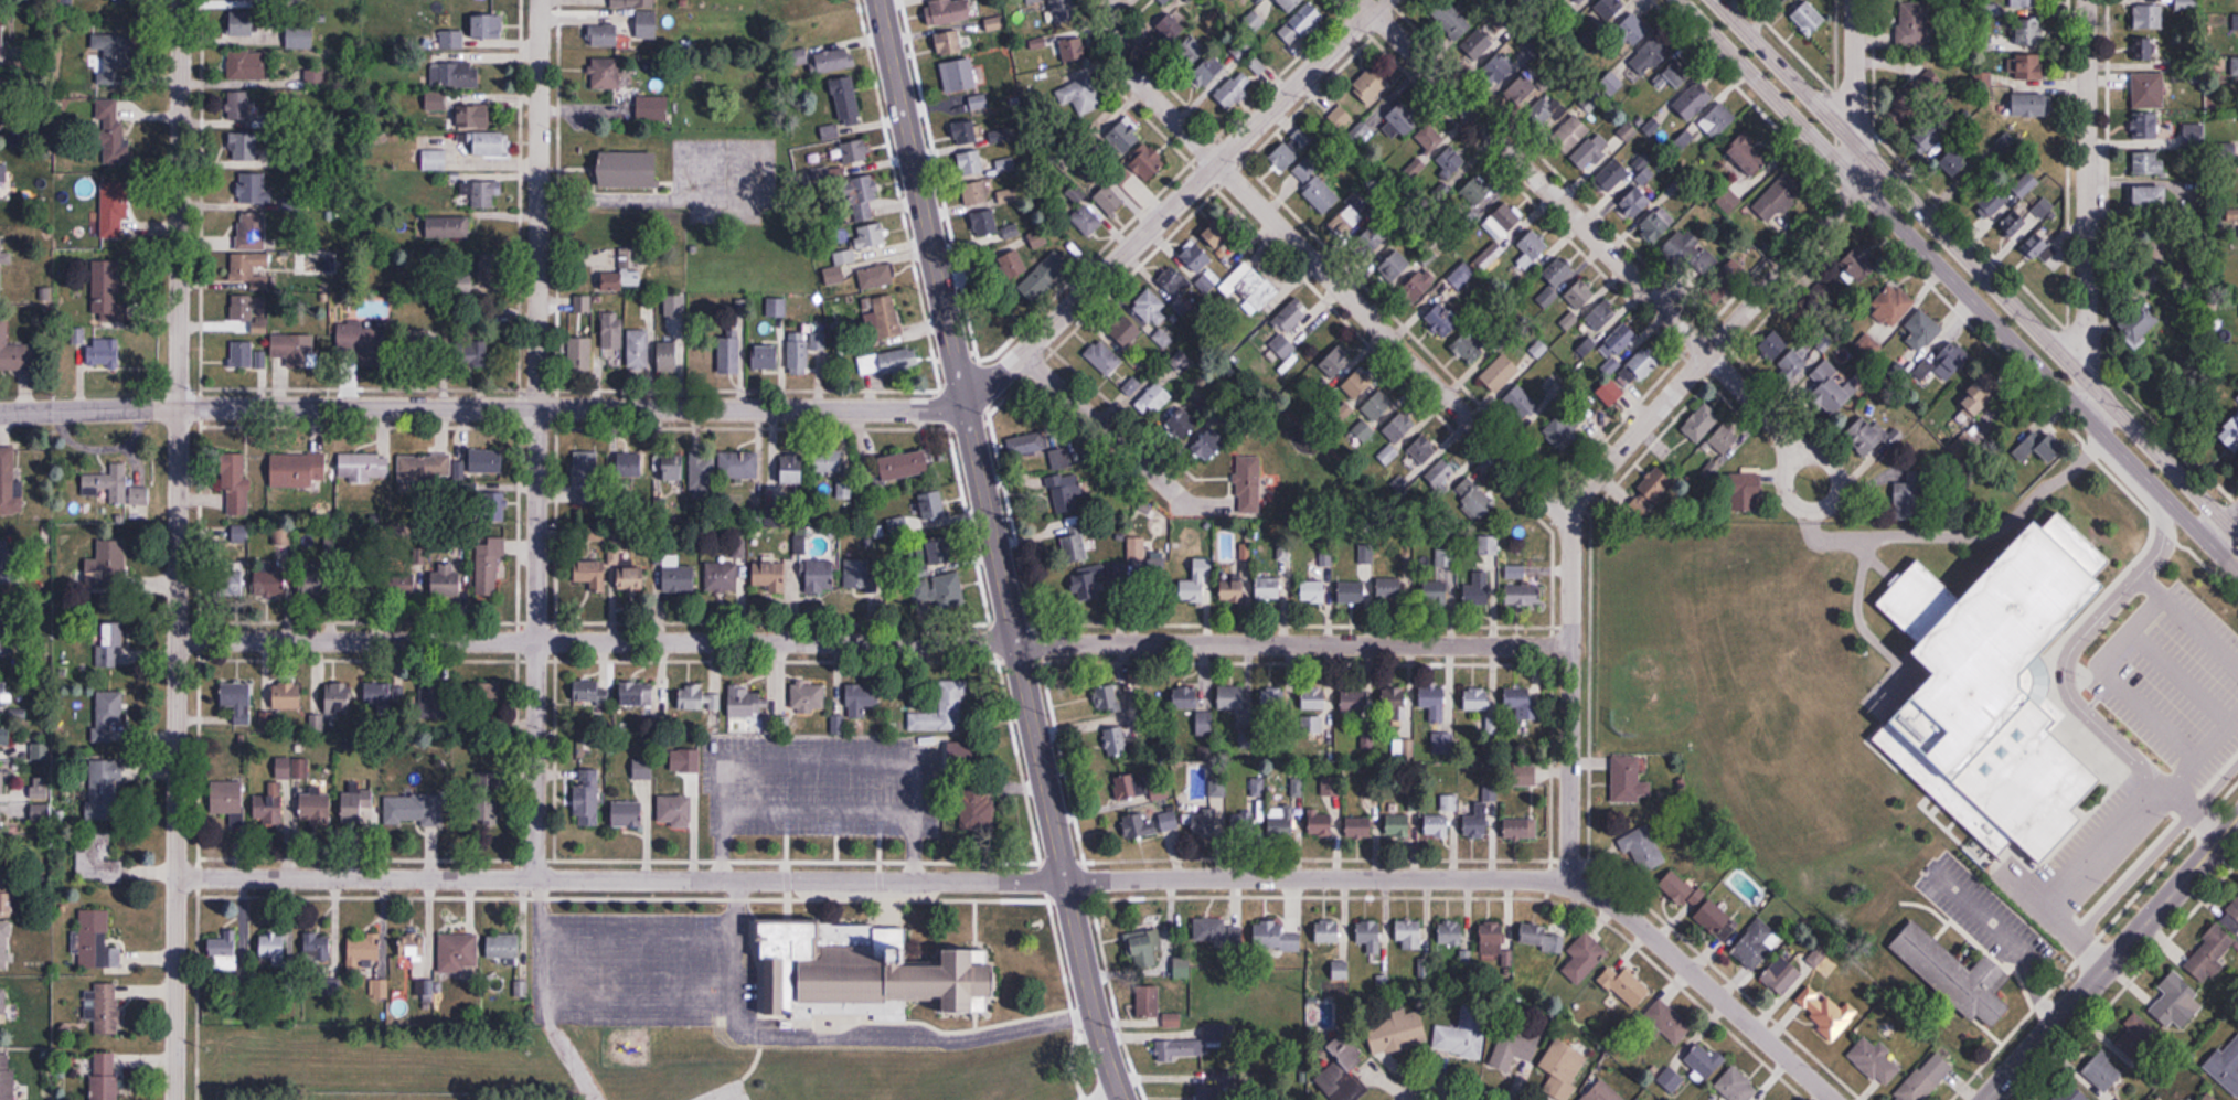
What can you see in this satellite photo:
building: (1776, 0)
building: (1579, 1)
building: (247, 2)
building: (632, 3)
building: (2026, 3)
building: (1290, 4)
building: (950, 11)
building: (1064, 11)
building: (1605, 12)
building: (2149, 17)
building: (1808, 18)
building: (1451, 19)
building: (1254, 21)
building: (243, 22)
building: (1303, 22)
building: (995, 23)
building: (1914, 24)
building: (488, 26)
building: (1170, 29)
building: (1633, 30)
building: (2028, 32)
building: (604, 36)
building: (2, 40)
building: (1481, 42)
building: (948, 43)
building: (1072, 50)
building: (1243, 50)
building: (2146, 53)
building: (798, 56)
building: (115, 58)
building: (835, 61)
building: (1200, 61)
building: (247, 65)
building: (1257, 65)
building: (2234, 66)
building: (2031, 67)
building: (1500, 70)
road: (1853, 70)
building: (1676, 73)
building: (605, 74)
building: (463, 75)
building: (958, 76)
building: (1375, 78)
building: (1234, 88)
building: (1921, 88)
building: (1523, 89)
building: (2149, 89)
building: (1079, 95)
building: (4, 102)
building: (437, 102)
building: (978, 102)
building: (1694, 102)
building: (2032, 105)
building: (239, 107)
building: (843, 107)
building: (652, 108)
building: (1543, 111)
building: (484, 116)
building: (1340, 117)
building: (1404, 118)
building: (1719, 125)
building: (2146, 126)
building: (110, 131)
building: (965, 132)
building: (1931, 132)
building: (1127, 134)
building: (1570, 134)
building: (2194, 136)
building: (1429, 140)
building: (2005, 142)
building: (491, 143)
building: (244, 147)
building: (852, 152)
building: (1592, 153)
building: (1296, 156)
building: (434, 160)
building: (1749, 160)
building: (1958, 160)
building: (971, 163)
building: (1148, 163)
building: (1450, 163)
building: (2148, 163)
building: (1416, 168)
building: (628, 170)
building: (1613, 175)
road: (1536, 177)
building: (2025, 184)
road: (2085, 189)
building: (255, 191)
building: (1478, 192)
building: (481, 193)
building: (976, 194)
building: (1320, 195)
building: (860, 196)
building: (1777, 199)
building: (2152, 199)
building: (1110, 200)
building: (1635, 203)
building: (1993, 203)
building: (114, 211)
building: (1085, 215)
building: (2232, 215)
building: (1346, 222)
building: (984, 224)
building: (2014, 224)
building: (1658, 225)
building: (448, 227)
building: (253, 232)
building: (1011, 232)
building: (1499, 233)
building: (1219, 235)
building: (871, 236)
building: (1038, 239)
building: (2036, 247)
building: (1532, 249)
building: (1685, 255)
building: (1193, 258)
building: (4, 260)
road: (1318, 265)
building: (1013, 266)
building: (1857, 266)
building: (840, 267)
road: (1976, 267)
building: (249, 269)
building: (625, 273)
building: (1559, 273)
building: (1044, 277)
building: (1461, 277)
building: (1408, 278)
building: (876, 279)
building: (1727, 279)
building: (115, 280)
building: (1174, 285)
road: (1958, 286)
building: (1253, 287)
building: (1820, 292)
building: (1590, 306)
building: (1891, 306)
building: (777, 308)
building: (1151, 308)
building: (248, 309)
building: (675, 318)
building: (887, 321)
building: (1443, 321)
building: (1569, 321)
building: (1288, 327)
building: (2140, 327)
building: (612, 332)
building: (1127, 332)
building: (1922, 332)
road: (1727, 335)
building: (356, 337)
building: (1622, 340)
building: (419, 344)
building: (1772, 344)
building: (292, 346)
building: (1471, 348)
building: (638, 350)
building: (806, 350)
building: (17, 353)
building: (103, 353)
building: (472, 353)
building: (579, 355)
building: (728, 355)
building: (242, 356)
building: (668, 357)
building: (765, 357)
building: (1102, 359)
building: (1946, 361)
building: (1339, 362)
building: (889, 363)
building: (1645, 363)
building: (1792, 366)
building: (1500, 374)
building: (1358, 386)
building: (1827, 391)
building: (1611, 394)
building: (1155, 398)
building: (2237, 399)
building: (1521, 404)
road: (1756, 405)
road: (774, 408)
building: (1375, 415)
building: (1702, 423)
road: (1101, 427)
building: (1400, 429)
building: (1560, 434)
building: (2230, 434)
road: (535, 435)
building: (1865, 437)
building: (1201, 440)
building: (1026, 445)
building: (1424, 450)
building: (1719, 450)
building: (827, 460)
building: (484, 461)
building: (738, 464)
building: (906, 464)
road: (1789, 464)
building: (630, 466)
building: (672, 467)
building: (363, 468)
building: (424, 468)
building: (792, 468)
building: (298, 470)
building: (1441, 476)
building: (703, 477)
building: (586, 478)
building: (8, 480)
building: (108, 483)
building: (1248, 483)
building: (235, 484)
building: (1656, 484)
building: (1067, 492)
building: (1747, 492)
building: (932, 505)
building: (1477, 505)
building: (495, 506)
road: (2231, 517)
building: (241, 535)
building: (1076, 546)
road: (178, 549)
road: (972, 551)
road: (994, 552)
building: (934, 554)
building: (10, 560)
building: (107, 562)
building: (490, 562)
building: (1131, 564)
building: (1157, 567)
building: (1528, 572)
building: (592, 573)
building: (769, 574)
building: (678, 576)
building: (631, 577)
building: (722, 577)
building: (820, 577)
building: (862, 579)
building: (1440, 579)
building: (233, 580)
building: (446, 581)
building: (271, 583)
building: (404, 583)
building: (1088, 583)
building: (1197, 583)
building: (318, 585)
building: (1269, 588)
building: (1478, 589)
building: (921, 590)
building: (949, 590)
building: (1233, 590)
building: (1390, 590)
building: (1313, 591)
building: (1354, 592)
building: (1523, 594)
road: (2187, 621)
building: (6, 633)
road: (873, 641)
building: (111, 644)
road: (2071, 645)
building: (1992, 683)
building: (1, 693)
building: (382, 693)
building: (590, 693)
building: (636, 694)
road: (1568, 695)
building: (287, 696)
building: (808, 697)
building: (338, 698)
building: (697, 698)
building: (1106, 698)
building: (1185, 698)
building: (1232, 698)
building: (1355, 698)
building: (1394, 698)
building: (862, 699)
building: (1313, 699)
building: (430, 701)
building: (1275, 701)
building: (1477, 701)
building: (237, 702)
building: (746, 703)
building: (1434, 704)
building: (1523, 704)
building: (945, 711)
building: (108, 714)
building: (6, 735)
building: (1115, 741)
building: (961, 756)
building: (642, 770)
building: (692, 772)
parking lot: (795, 775)
building: (1525, 776)
building: (1626, 779)
building: (2, 781)
building: (1129, 787)
building: (1331, 787)
building: (103, 789)
building: (278, 791)
building: (1160, 793)
building: (586, 798)
building: (228, 800)
building: (316, 808)
building: (356, 808)
building: (978, 810)
building: (674, 812)
building: (1212, 813)
building: (628, 814)
road: (2191, 815)
building: (1442, 820)
building: (1480, 821)
building: (1151, 823)
building: (1244, 825)
building: (1281, 825)
building: (1321, 825)
building: (1400, 825)
building: (2, 827)
building: (1360, 827)
building: (1521, 829)
road: (2116, 836)
road: (703, 846)
road: (765, 846)
road: (816, 847)
road: (859, 847)
road: (894, 848)
building: (1642, 848)
road: (777, 852)
building: (98, 859)
road: (1045, 872)
building: (6, 886)
building: (1681, 889)
building: (2231, 917)
building: (1716, 921)
building: (1217, 931)
building: (1328, 931)
building: (1450, 932)
building: (1409, 933)
building: (1275, 936)
building: (1370, 936)
building: (1492, 938)
building: (1542, 938)
building: (95, 941)
building: (4, 944)
building: (1756, 944)
building: (503, 946)
building: (317, 947)
building: (273, 950)
building: (364, 950)
building: (1143, 950)
building: (2210, 952)
building: (223, 953)
building: (458, 953)
building: (414, 954)
building: (1585, 959)
road: (2113, 961)
parking lot: (624, 962)
building: (1340, 970)
building: (1783, 973)
building: (1954, 974)
building: (865, 979)
building: (1624, 986)
road: (529, 994)
building: (2175, 1001)
building: (3, 1005)
building: (102, 1007)
building: (1823, 1011)
building: (1172, 1019)
building: (1667, 1022)
road: (917, 1032)
building: (1396, 1033)
building: (1463, 1033)
building: (2135, 1037)
building: (1201, 1045)
building: (1513, 1049)
building: (1869, 1058)
building: (1705, 1059)
building: (2230, 1066)
building: (1342, 1069)
building: (1563, 1070)
building: (2104, 1071)
building: (7, 1074)
building: (104, 1075)
building: (1925, 1079)
building: (1737, 1086)
building: (1219, 1090)
building: (1602, 1092)
parking lot: (732, 1093)
building: (2071, 1093)
building: (2208, 1097)
road: (1119, 1098)

